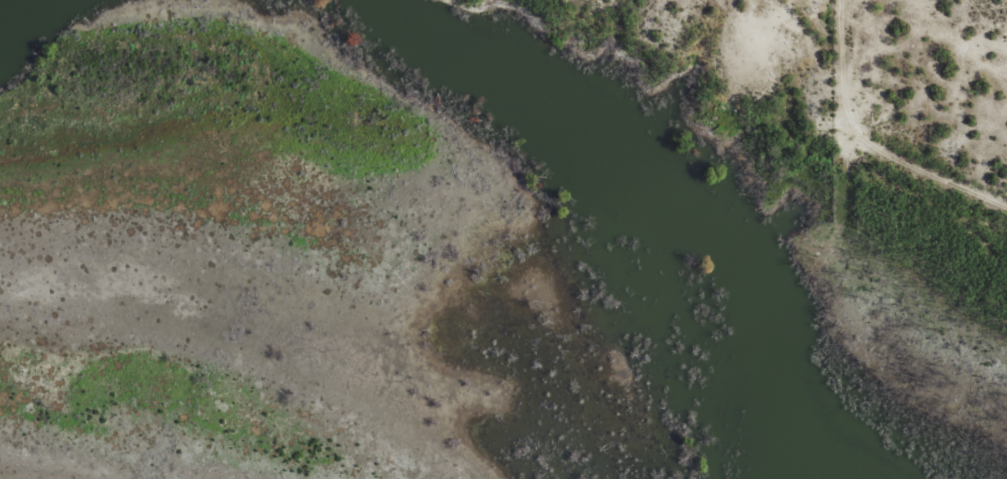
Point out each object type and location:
river: (13, 8)
road: (866, 141)
river: (659, 198)

